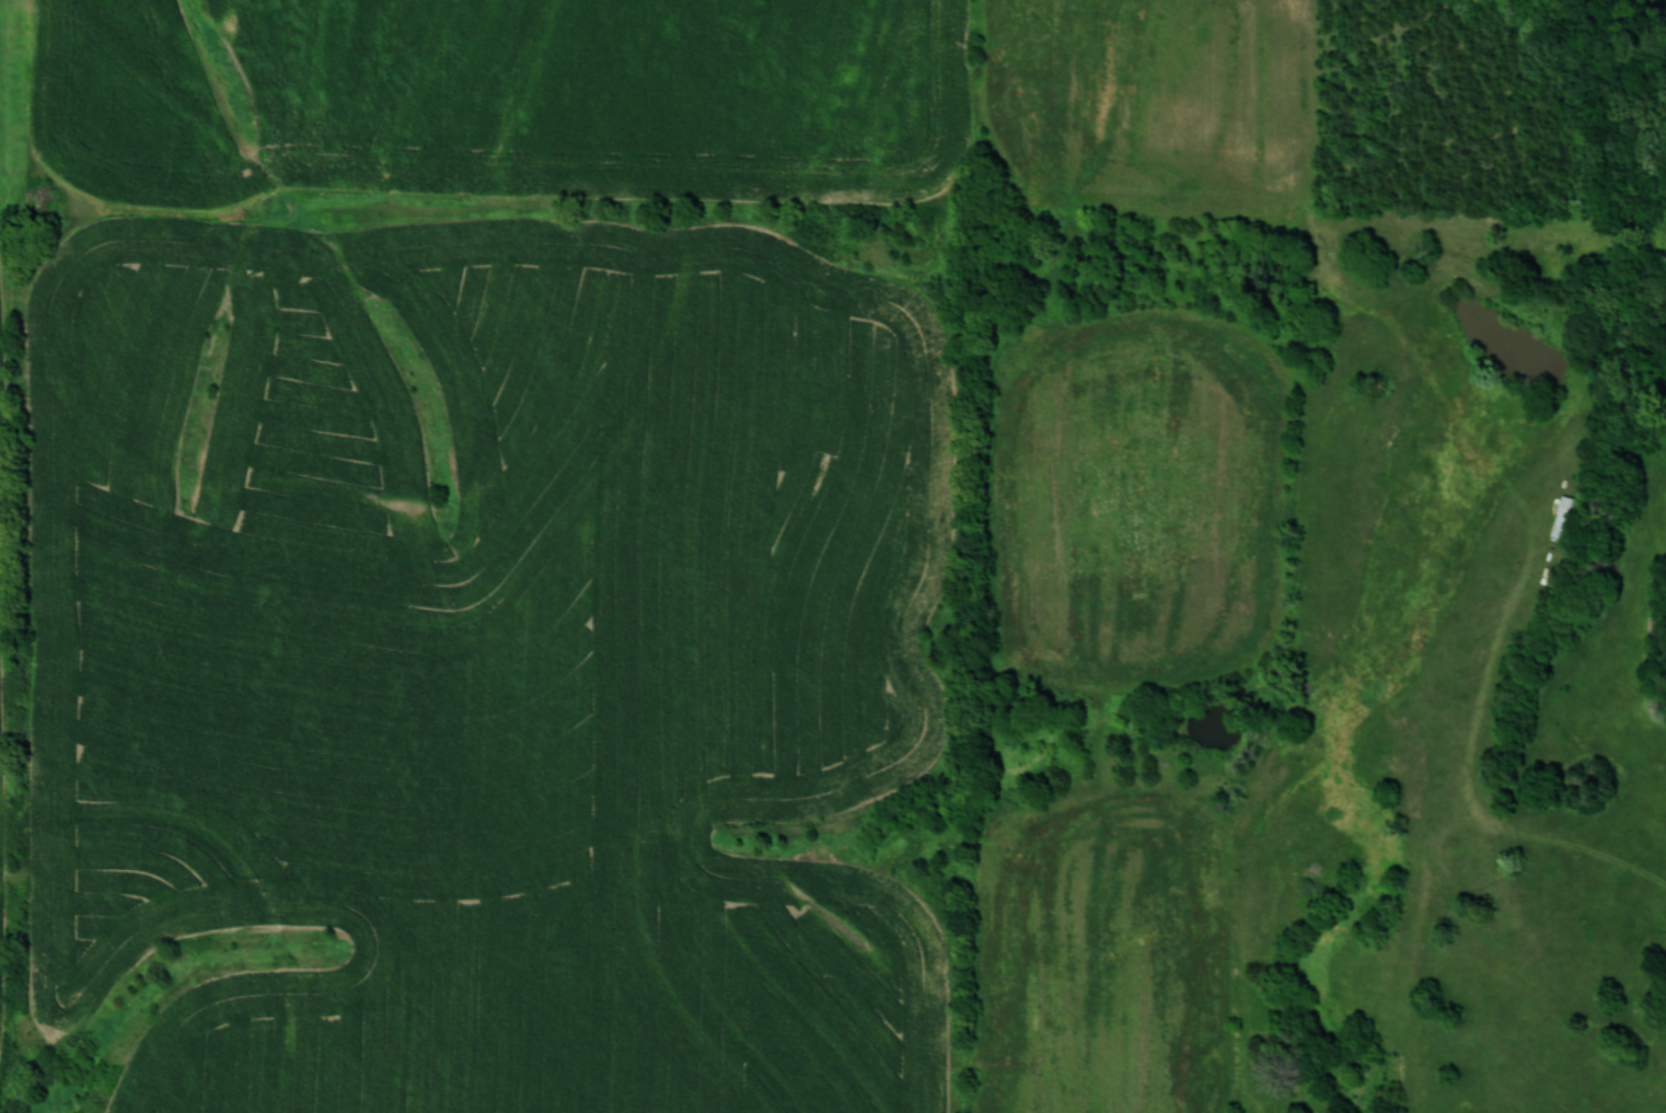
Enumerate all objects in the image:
park: (1496, 103)
building: (1567, 517)
building: (1654, 627)

